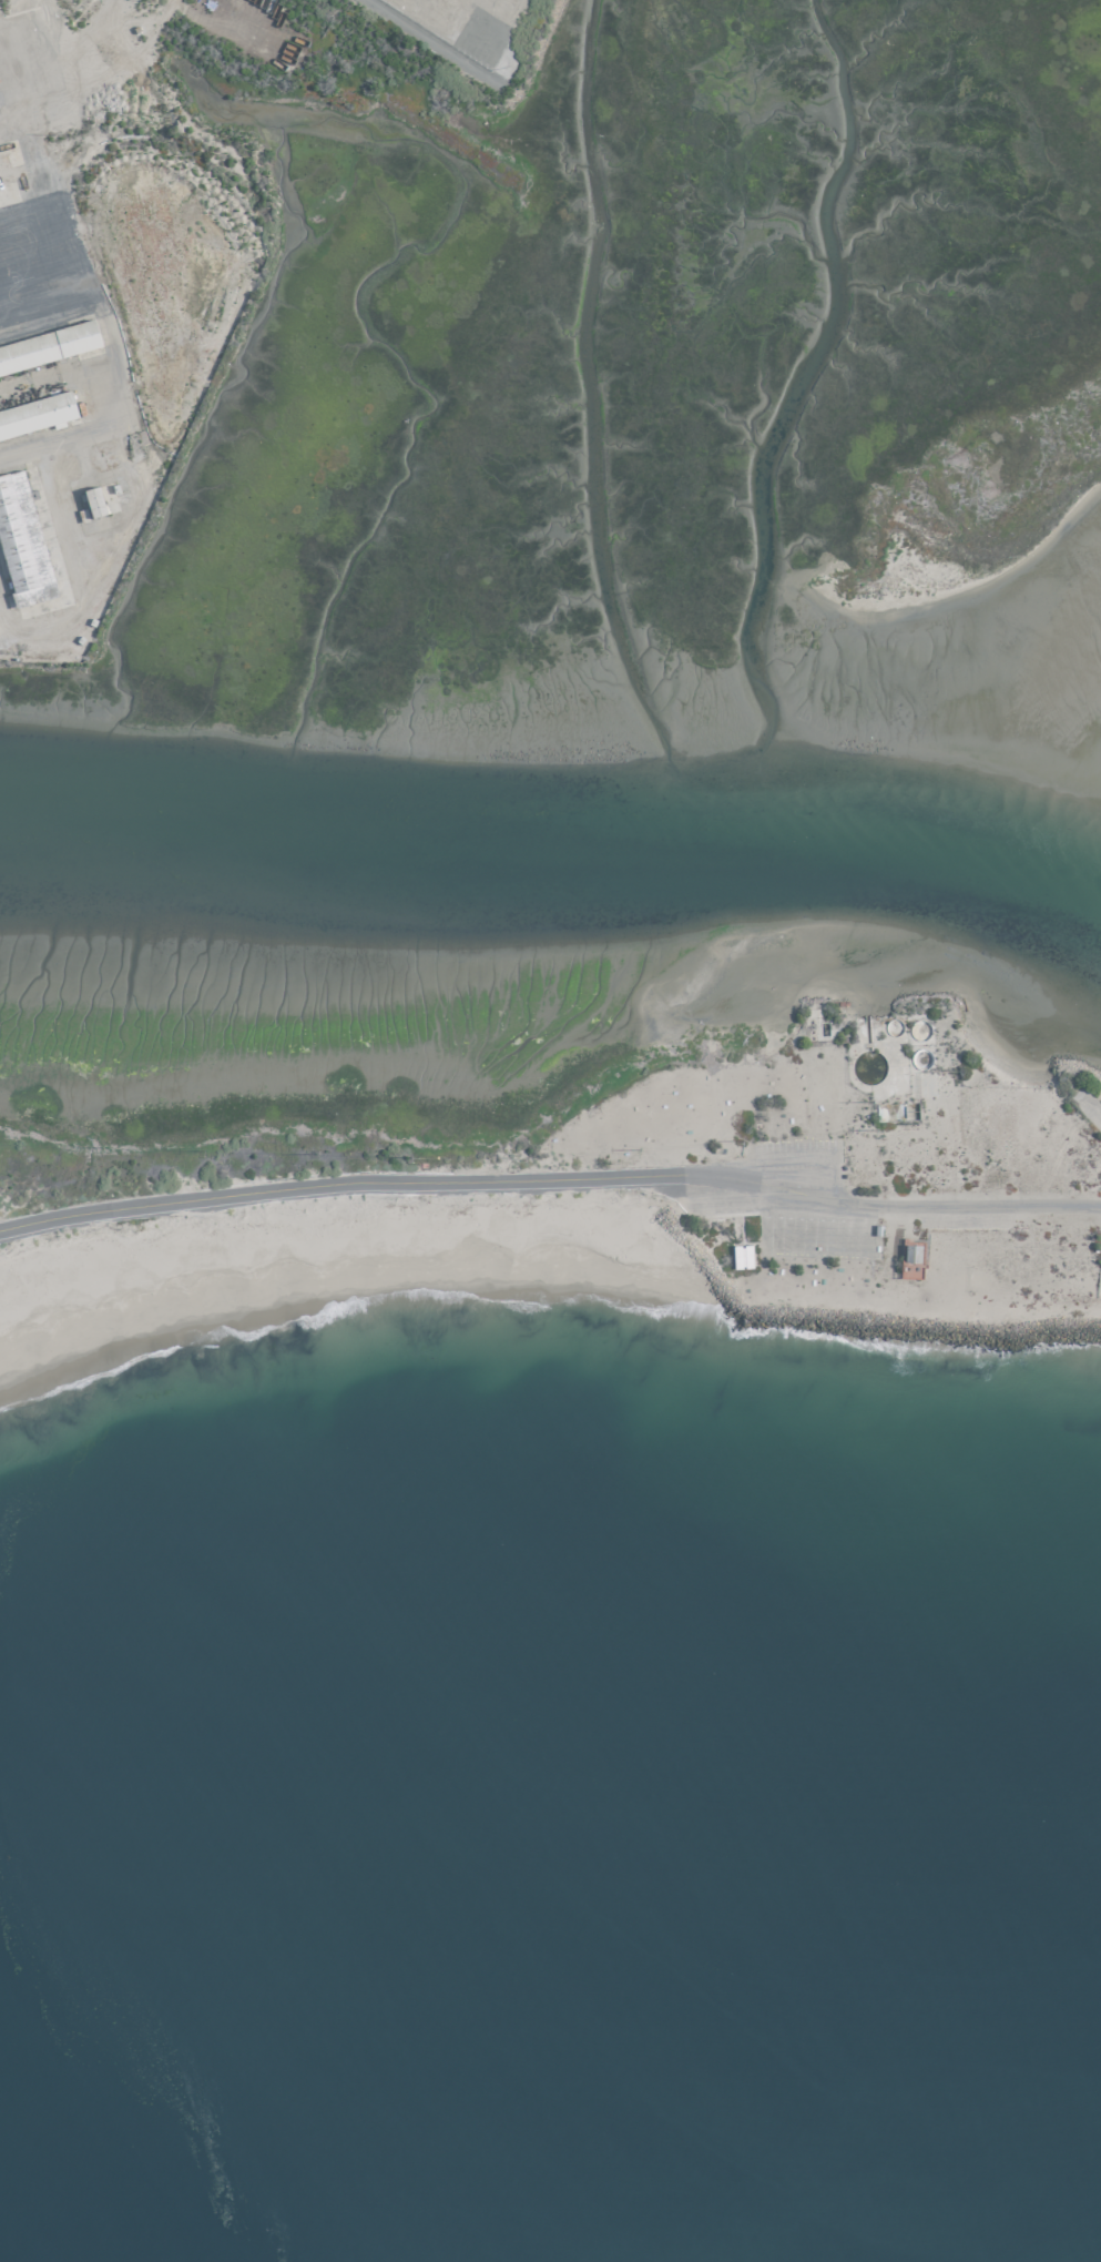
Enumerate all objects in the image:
building: (48, 346)
building: (35, 414)
building: (91, 501)
building: (21, 542)
airport: (554, 736)
road: (552, 1176)
building: (910, 1252)
building: (741, 1256)

